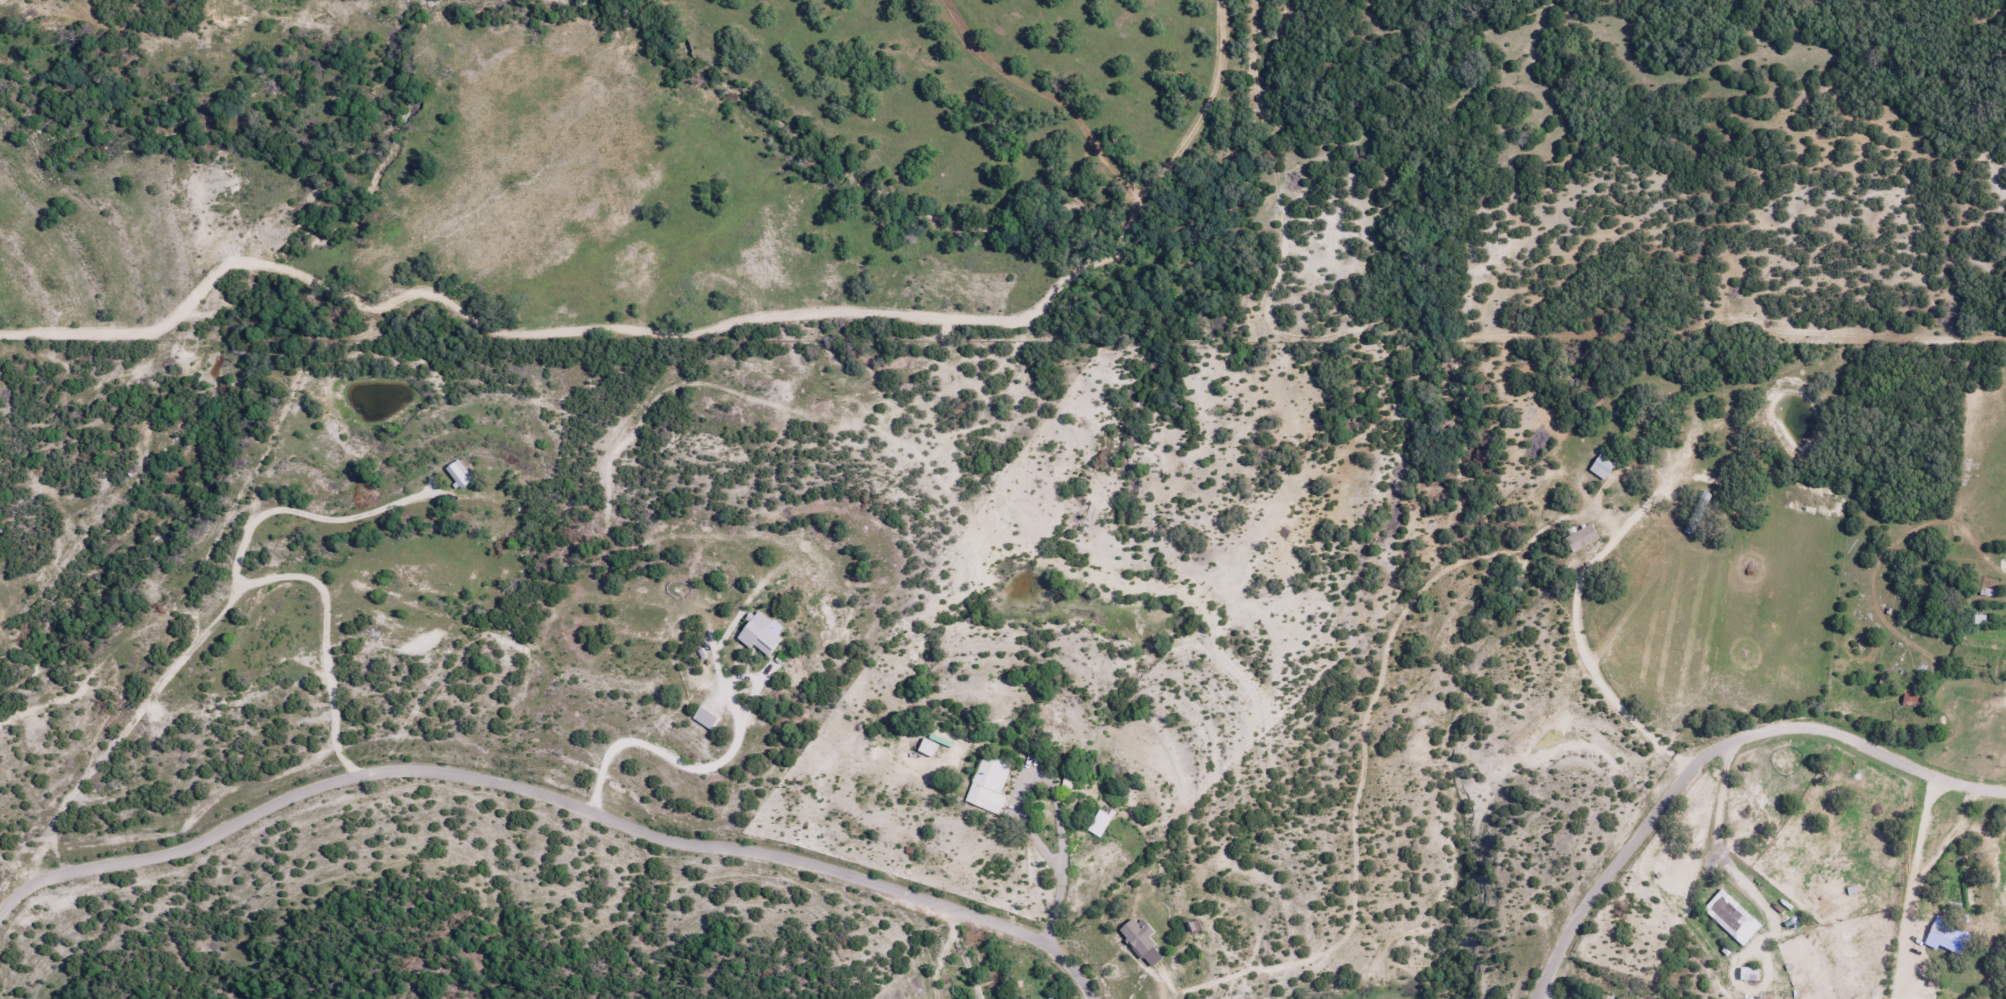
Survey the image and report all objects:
road: (160, 280)
road: (678, 424)
building: (1602, 465)
building: (1580, 538)
building: (475, 567)
building: (757, 634)
building: (704, 718)
building: (926, 747)
road: (1717, 751)
building: (988, 784)
road: (552, 796)
building: (1098, 823)
road: (58, 853)
building: (1731, 917)
building: (1795, 923)
building: (1133, 927)
building: (1947, 937)
building: (1747, 974)

